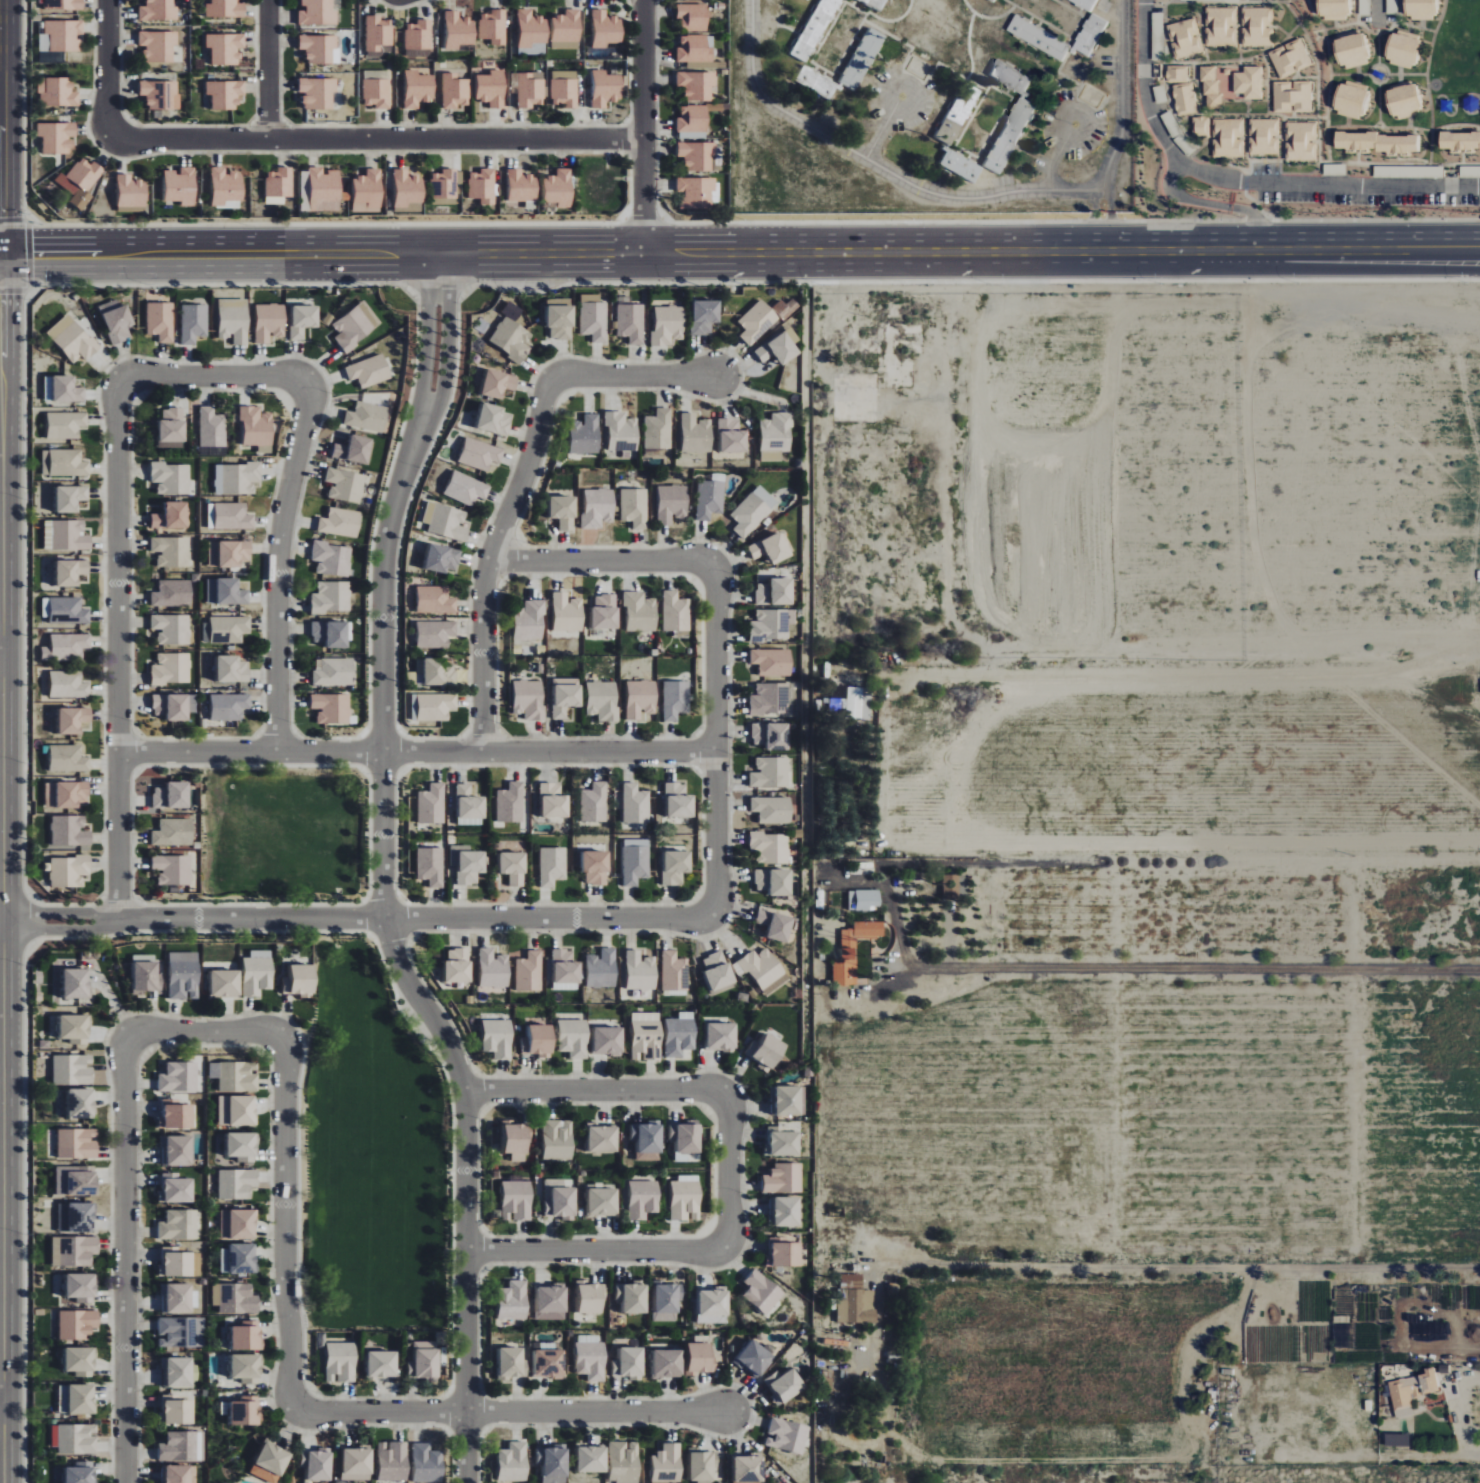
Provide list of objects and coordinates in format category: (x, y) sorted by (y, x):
building: (992, 0)
building: (1197, 0)
building: (872, 3)
building: (1084, 3)
building: (62, 4)
building: (225, 9)
building: (1419, 9)
building: (1332, 10)
road: (1375, 10)
building: (158, 11)
building: (318, 12)
building: (688, 17)
building: (493, 26)
building: (567, 27)
building: (1221, 27)
building: (1256, 28)
building: (532, 29)
building: (606, 29)
building: (459, 30)
building: (811, 30)
building: (378, 35)
building: (418, 35)
building: (1089, 35)
building: (1157, 37)
building: (61, 39)
building: (1037, 39)
building: (1185, 39)
building: (158, 46)
building: (226, 48)
building: (321, 49)
building: (693, 49)
building: (1401, 51)
building: (1349, 52)
building: (859, 57)
building: (1289, 58)
road: (107, 67)
road: (268, 69)
building: (1177, 74)
building: (813, 82)
building: (1249, 83)
building: (1217, 84)
building: (697, 85)
building: (492, 88)
building: (528, 88)
building: (606, 88)
building: (418, 89)
building: (564, 89)
building: (376, 90)
building: (455, 91)
building: (57, 92)
building: (318, 92)
building: (161, 94)
building: (226, 94)
building: (1159, 95)
road: (1122, 97)
building: (1292, 97)
building: (1185, 99)
building: (1348, 100)
building: (1401, 102)
building: (955, 114)
building: (1009, 117)
building: (693, 119)
road: (884, 119)
road: (643, 125)
road: (3, 127)
building: (1202, 127)
building: (57, 137)
building: (1264, 137)
building: (1228, 138)
road: (373, 139)
road: (1070, 141)
building: (1300, 142)
building: (1376, 143)
building: (1459, 143)
building: (696, 155)
road: (874, 165)
building: (958, 166)
building: (82, 177)
road: (1242, 181)
building: (279, 185)
building: (443, 185)
building: (181, 186)
building: (226, 186)
building: (483, 186)
building: (522, 186)
building: (407, 188)
building: (559, 188)
building: (324, 189)
building: (131, 191)
building: (367, 192)
building: (695, 192)
road: (1110, 216)
road: (1094, 217)
traffic signals: (5, 218)
road: (953, 246)
road: (229, 253)
road: (2, 254)
road: (18, 254)
traffic signals: (32, 254)
traffic signals: (3, 295)
building: (704, 317)
building: (594, 318)
building: (234, 320)
building: (303, 320)
building: (117, 321)
building: (161, 321)
building: (270, 322)
building: (561, 322)
building: (630, 322)
building: (756, 322)
building: (194, 323)
building: (667, 325)
building: (356, 326)
building: (73, 338)
building: (512, 339)
road: (427, 346)
building: (778, 349)
road: (447, 350)
building: (370, 371)
road: (638, 376)
road: (214, 377)
building: (498, 384)
building: (67, 390)
building: (368, 417)
building: (495, 420)
building: (66, 424)
building: (257, 426)
building: (172, 428)
building: (212, 428)
building: (658, 429)
building: (621, 432)
building: (696, 434)
building: (585, 435)
building: (732, 436)
building: (776, 436)
building: (354, 450)
building: (480, 454)
building: (64, 463)
building: (172, 478)
building: (240, 478)
building: (345, 485)
building: (466, 488)
building: (711, 497)
building: (71, 498)
building: (672, 504)
building: (634, 507)
building: (598, 508)
building: (753, 511)
building: (564, 512)
building: (229, 516)
building: (171, 517)
building: (447, 521)
building: (341, 523)
building: (70, 536)
building: (772, 548)
building: (172, 551)
building: (229, 554)
road: (489, 557)
building: (332, 559)
building: (442, 559)
road: (600, 561)
road: (278, 564)
building: (71, 572)
building: (226, 592)
building: (775, 592)
building: (173, 593)
building: (331, 597)
building: (435, 600)
building: (68, 611)
building: (605, 612)
building: (640, 612)
building: (675, 612)
building: (568, 613)
building: (531, 622)
building: (770, 626)
building: (171, 629)
building: (226, 629)
building: (435, 633)
building: (330, 634)
building: (66, 647)
road: (1, 648)
road: (118, 649)
building: (772, 662)
road: (1, 665)
building: (171, 669)
building: (232, 669)
building: (334, 672)
building: (435, 672)
building: (68, 685)
building: (566, 696)
building: (529, 699)
building: (768, 699)
building: (603, 700)
building: (641, 700)
building: (675, 700)
building: (851, 703)
building: (172, 707)
building: (229, 707)
building: (433, 707)
building: (332, 708)
building: (73, 720)
building: (765, 735)
road: (717, 740)
road: (417, 752)
crop: (1147, 756)
building: (68, 758)
building: (767, 772)
building: (67, 793)
building: (172, 795)
building: (679, 800)
building: (554, 801)
building: (594, 802)
building: (432, 803)
building: (511, 803)
building: (635, 803)
building: (470, 806)
building: (769, 809)
building: (70, 830)
building: (173, 832)
building: (767, 847)
building: (467, 863)
building: (636, 864)
building: (430, 865)
building: (552, 865)
building: (596, 866)
building: (676, 866)
building: (513, 867)
road: (3, 868)
building: (172, 869)
building: (69, 870)
building: (768, 881)
building: (948, 885)
building: (864, 899)
road: (60, 913)
road: (415, 919)
building: (769, 925)
road: (61, 931)
building: (845, 955)
building: (458, 965)
road: (400, 966)
building: (566, 967)
building: (493, 968)
building: (602, 968)
road: (1185, 969)
building: (718, 970)
building: (761, 970)
building: (529, 971)
building: (640, 971)
building: (674, 971)
building: (257, 972)
building: (183, 975)
building: (300, 980)
building: (76, 982)
building: (225, 982)
building: (75, 1028)
road: (205, 1033)
building: (646, 1035)
building: (680, 1036)
building: (722, 1036)
building: (498, 1037)
building: (574, 1037)
building: (539, 1040)
building: (608, 1040)
building: (766, 1050)
building: (73, 1069)
building: (233, 1076)
building: (179, 1077)
road: (595, 1091)
building: (787, 1100)
building: (81, 1103)
building: (237, 1110)
building: (177, 1115)
building: (686, 1136)
building: (603, 1138)
building: (557, 1139)
building: (515, 1140)
building: (647, 1140)
building: (78, 1143)
building: (243, 1146)
building: (177, 1150)
building: (686, 1157)
road: (729, 1171)
building: (1094, 1171)
building: (784, 1178)
building: (76, 1180)
building: (237, 1183)
building: (176, 1187)
building: (686, 1198)
building: (559, 1199)
building: (643, 1199)
building: (517, 1200)
building: (786, 1210)
building: (82, 1217)
road: (285, 1222)
building: (239, 1223)
building: (179, 1225)
building: (74, 1250)
road: (596, 1252)
building: (783, 1252)
building: (239, 1258)
road: (126, 1259)
building: (176, 1263)
road: (1175, 1269)
building: (82, 1287)
building: (762, 1291)
building: (632, 1296)
building: (589, 1297)
building: (180, 1298)
building: (235, 1299)
building: (514, 1300)
building: (666, 1301)
building: (857, 1301)
building: (551, 1302)
building: (713, 1305)
crop: (1348, 1314)
building: (78, 1324)
building: (1428, 1328)
building: (1340, 1331)
building: (247, 1335)
building: (590, 1357)
building: (701, 1357)
building: (755, 1358)
building: (424, 1360)
building: (81, 1361)
building: (512, 1361)
building: (341, 1362)
building: (548, 1363)
building: (630, 1363)
building: (668, 1363)
building: (382, 1364)
building: (247, 1368)
crop: (1062, 1371)
building: (178, 1372)
building: (785, 1385)
building: (1415, 1389)
road: (2, 1396)
building: (77, 1398)
building: (245, 1410)
building: (178, 1411)
road: (2, 1412)
road: (511, 1413)
building: (787, 1435)
building: (75, 1438)
building: (182, 1447)
road: (1436, 1458)
building: (592, 1459)
building: (393, 1461)
building: (271, 1462)
building: (513, 1462)
building: (624, 1462)
building: (318, 1463)
building: (428, 1463)
building: (553, 1463)
building: (668, 1463)
building: (357, 1464)
building: (705, 1465)
building: (749, 1469)
building: (81, 1472)
building: (176, 1474)

